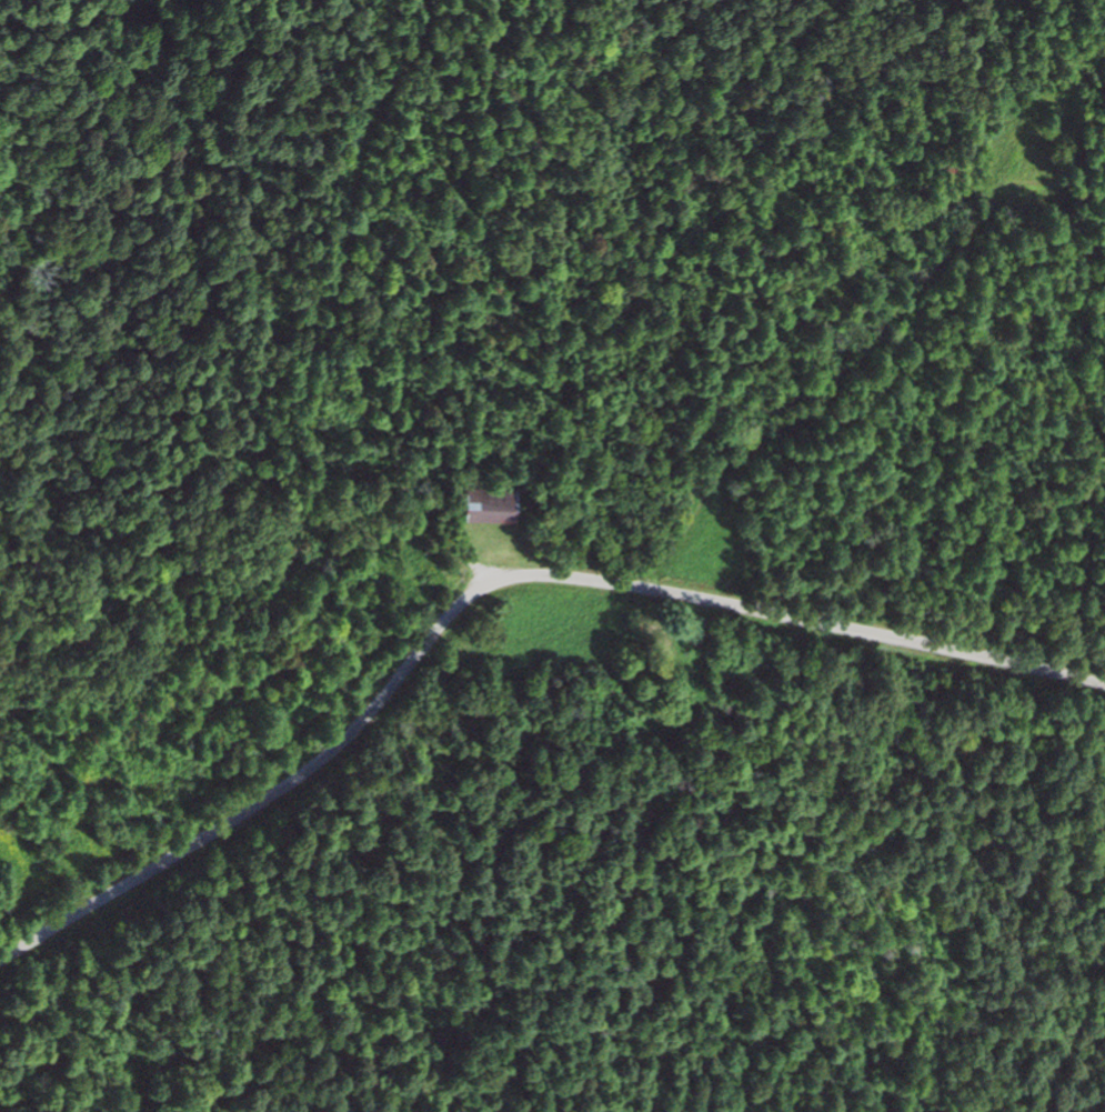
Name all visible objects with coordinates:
road: (491, 585)

